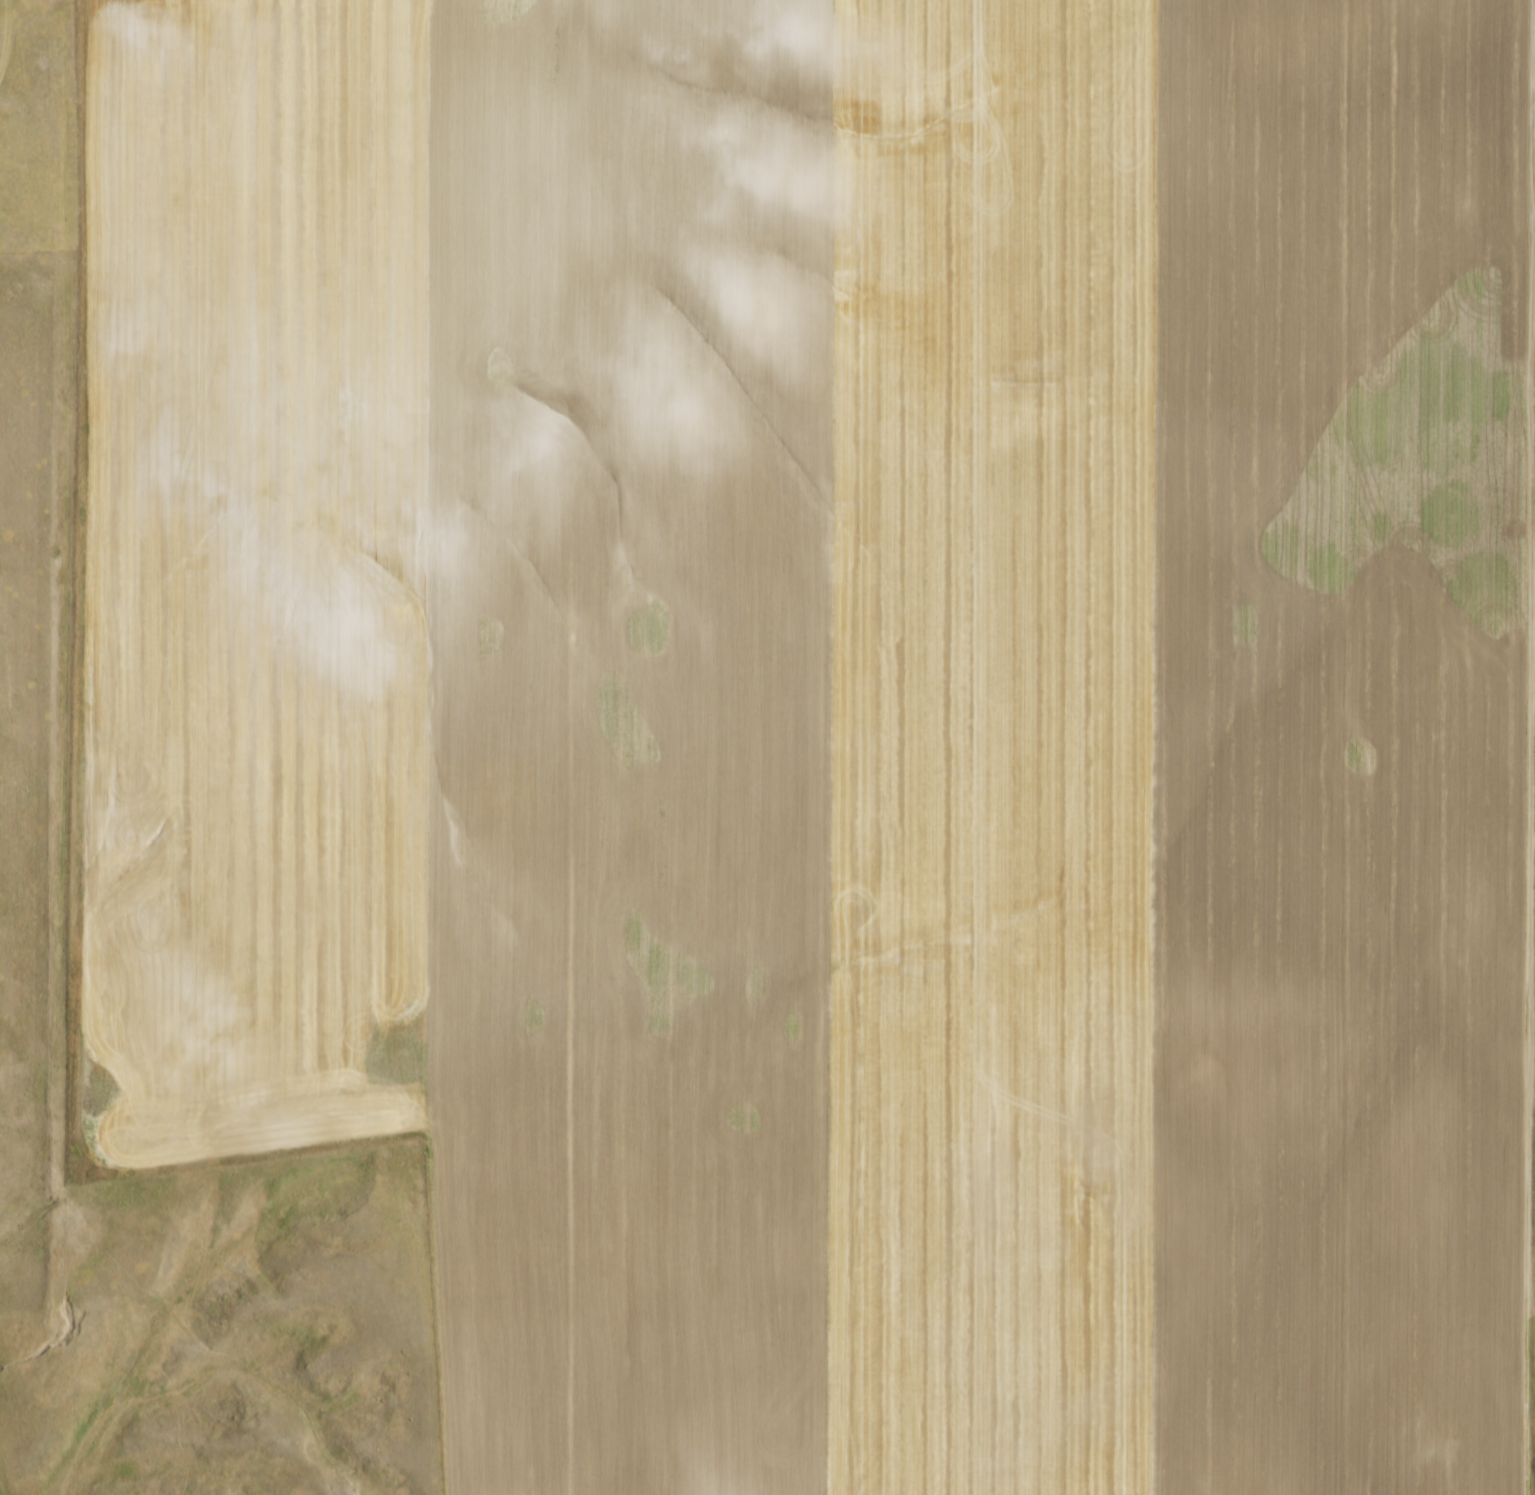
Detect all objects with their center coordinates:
road: (1533, 747)

